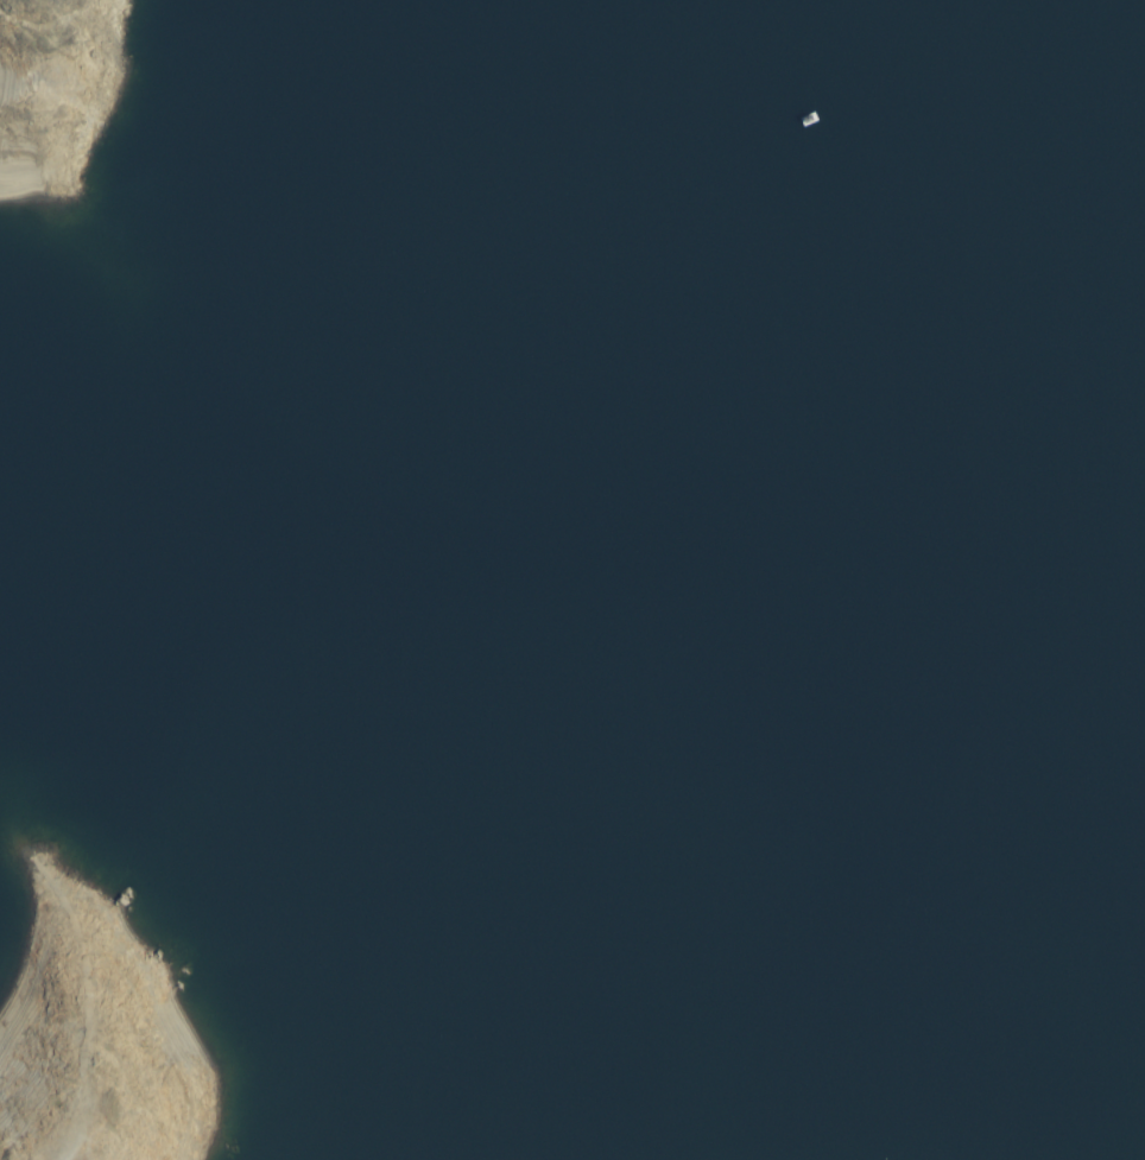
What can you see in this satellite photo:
park: (572, 579)

